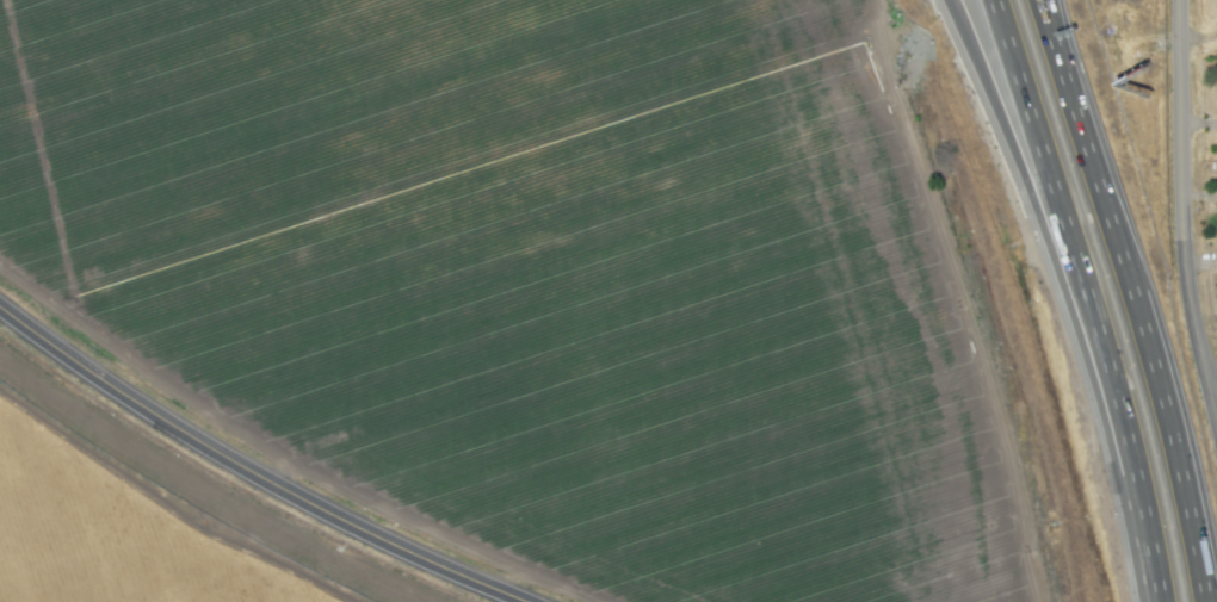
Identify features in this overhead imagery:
road: (1194, 41)
road: (1173, 103)
road: (1026, 182)
road: (1143, 297)
road: (1083, 298)
crop: (527, 305)
road: (1186, 327)
road: (1216, 440)
road: (253, 473)

